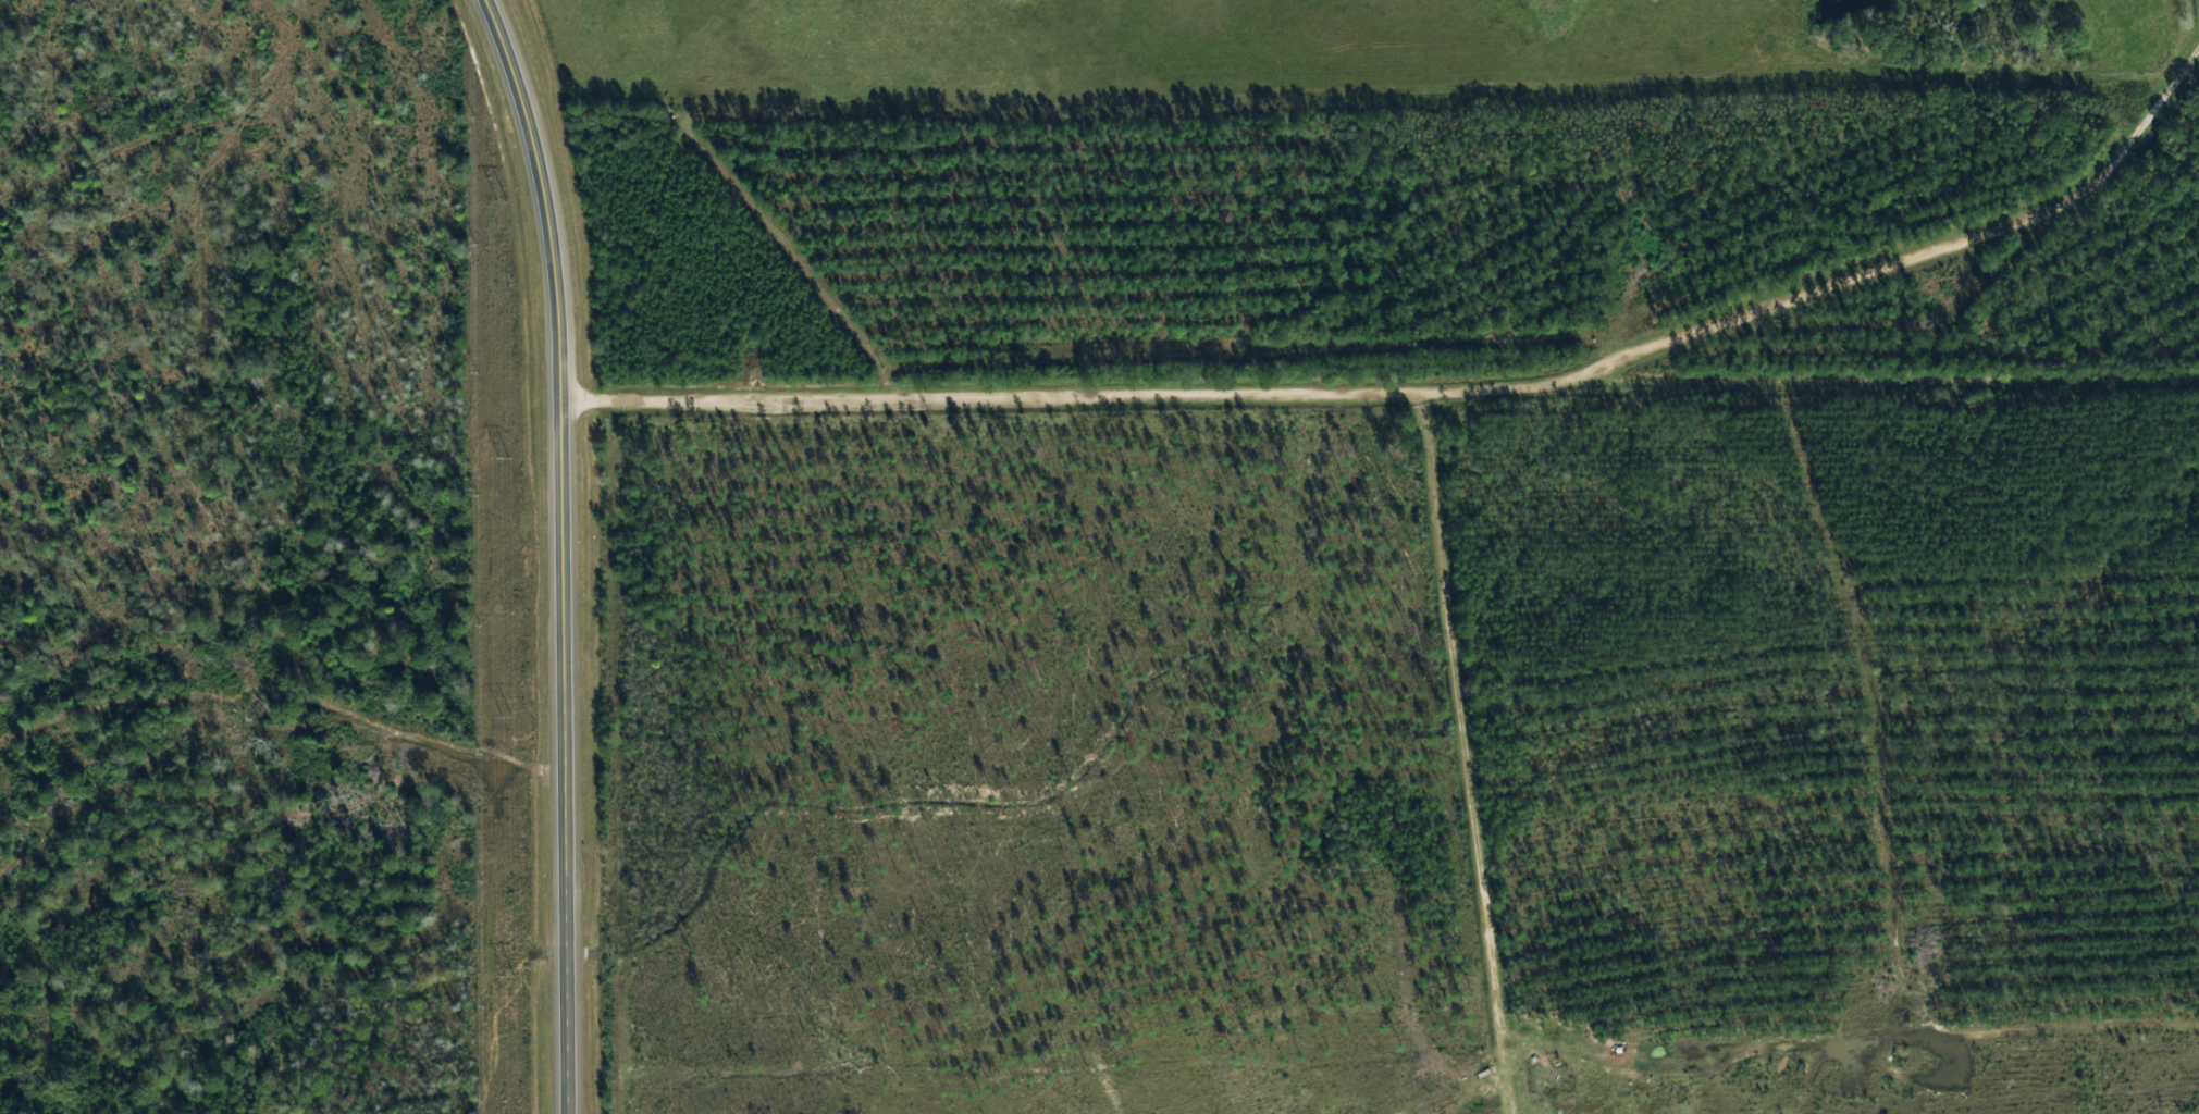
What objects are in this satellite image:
road: (1944, 360)
road: (1437, 368)
road: (559, 552)

